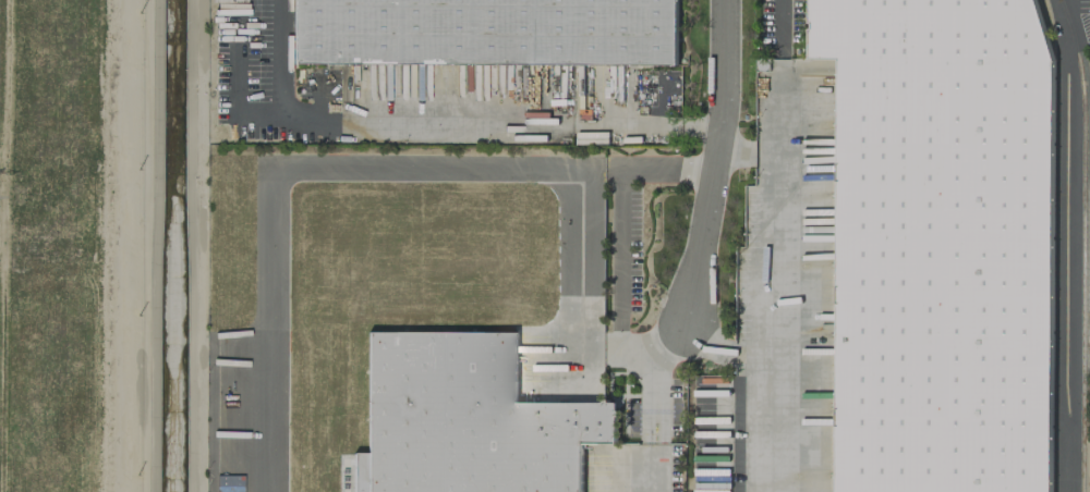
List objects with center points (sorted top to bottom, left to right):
road: (776, 23)
building: (486, 32)
road: (447, 121)
road: (743, 149)
road: (716, 160)
road: (269, 174)
building: (940, 244)
railway: (1086, 244)
road: (1065, 245)
road: (619, 250)
road: (578, 258)
road: (767, 281)
road: (724, 346)
building: (469, 419)
road: (655, 421)

